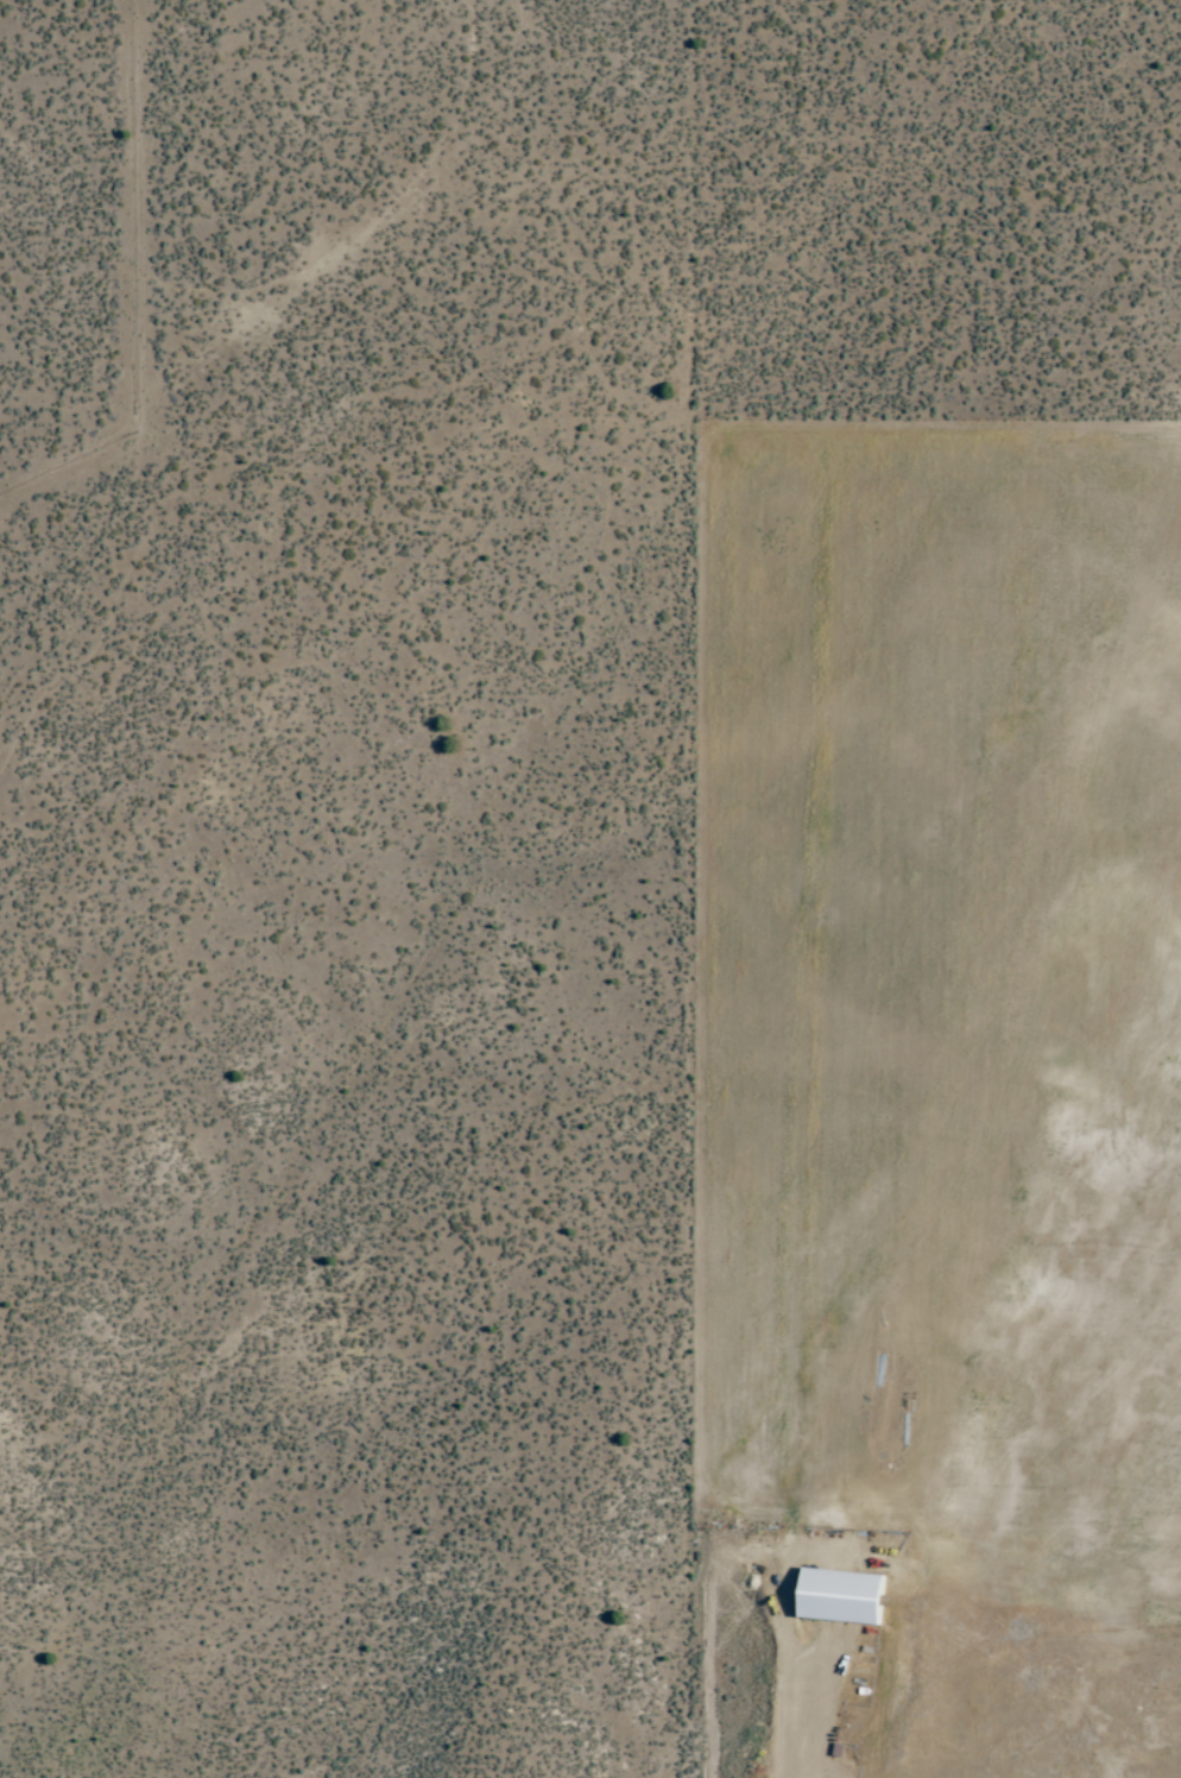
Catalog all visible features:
building: (840, 1596)

